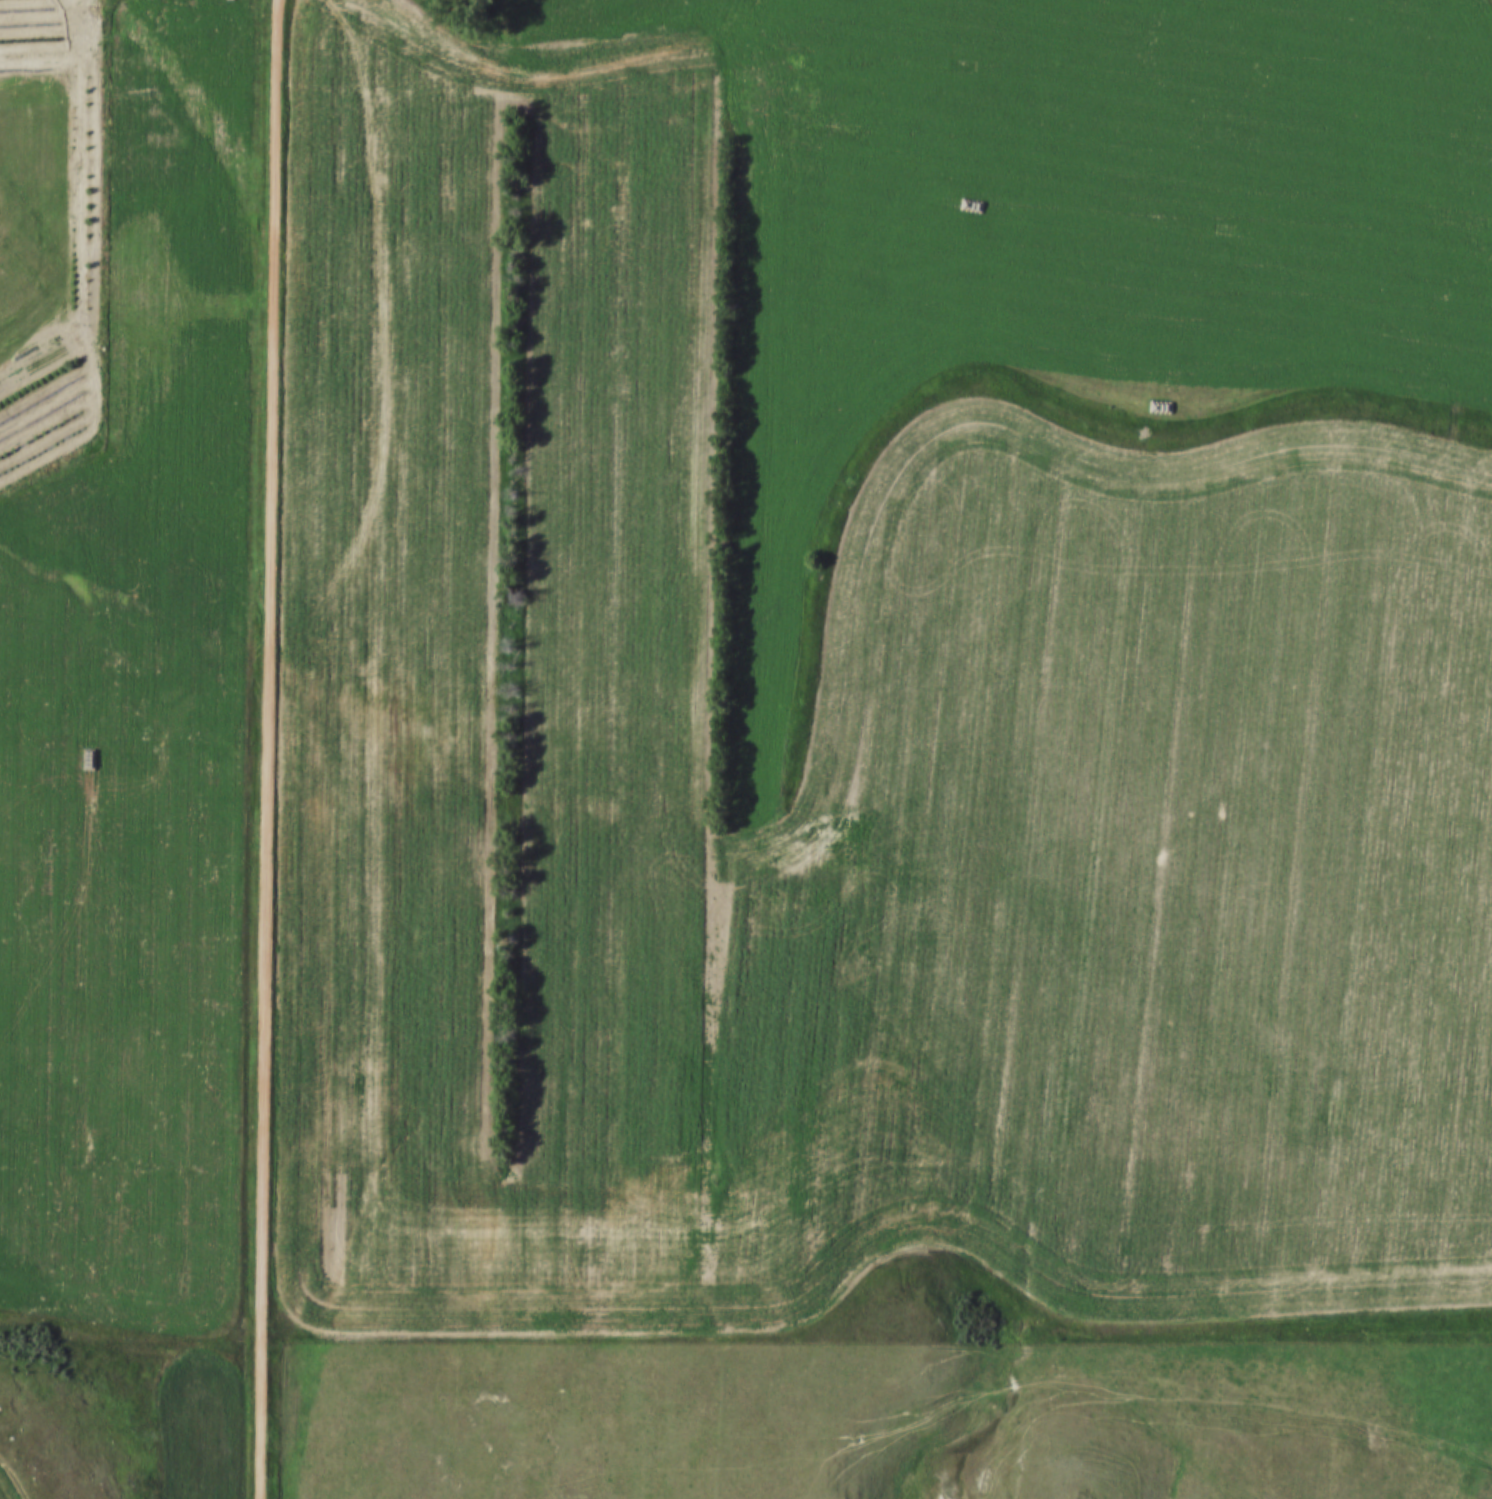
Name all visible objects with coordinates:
road: (574, 79)
road: (267, 749)
road: (14, 1478)

